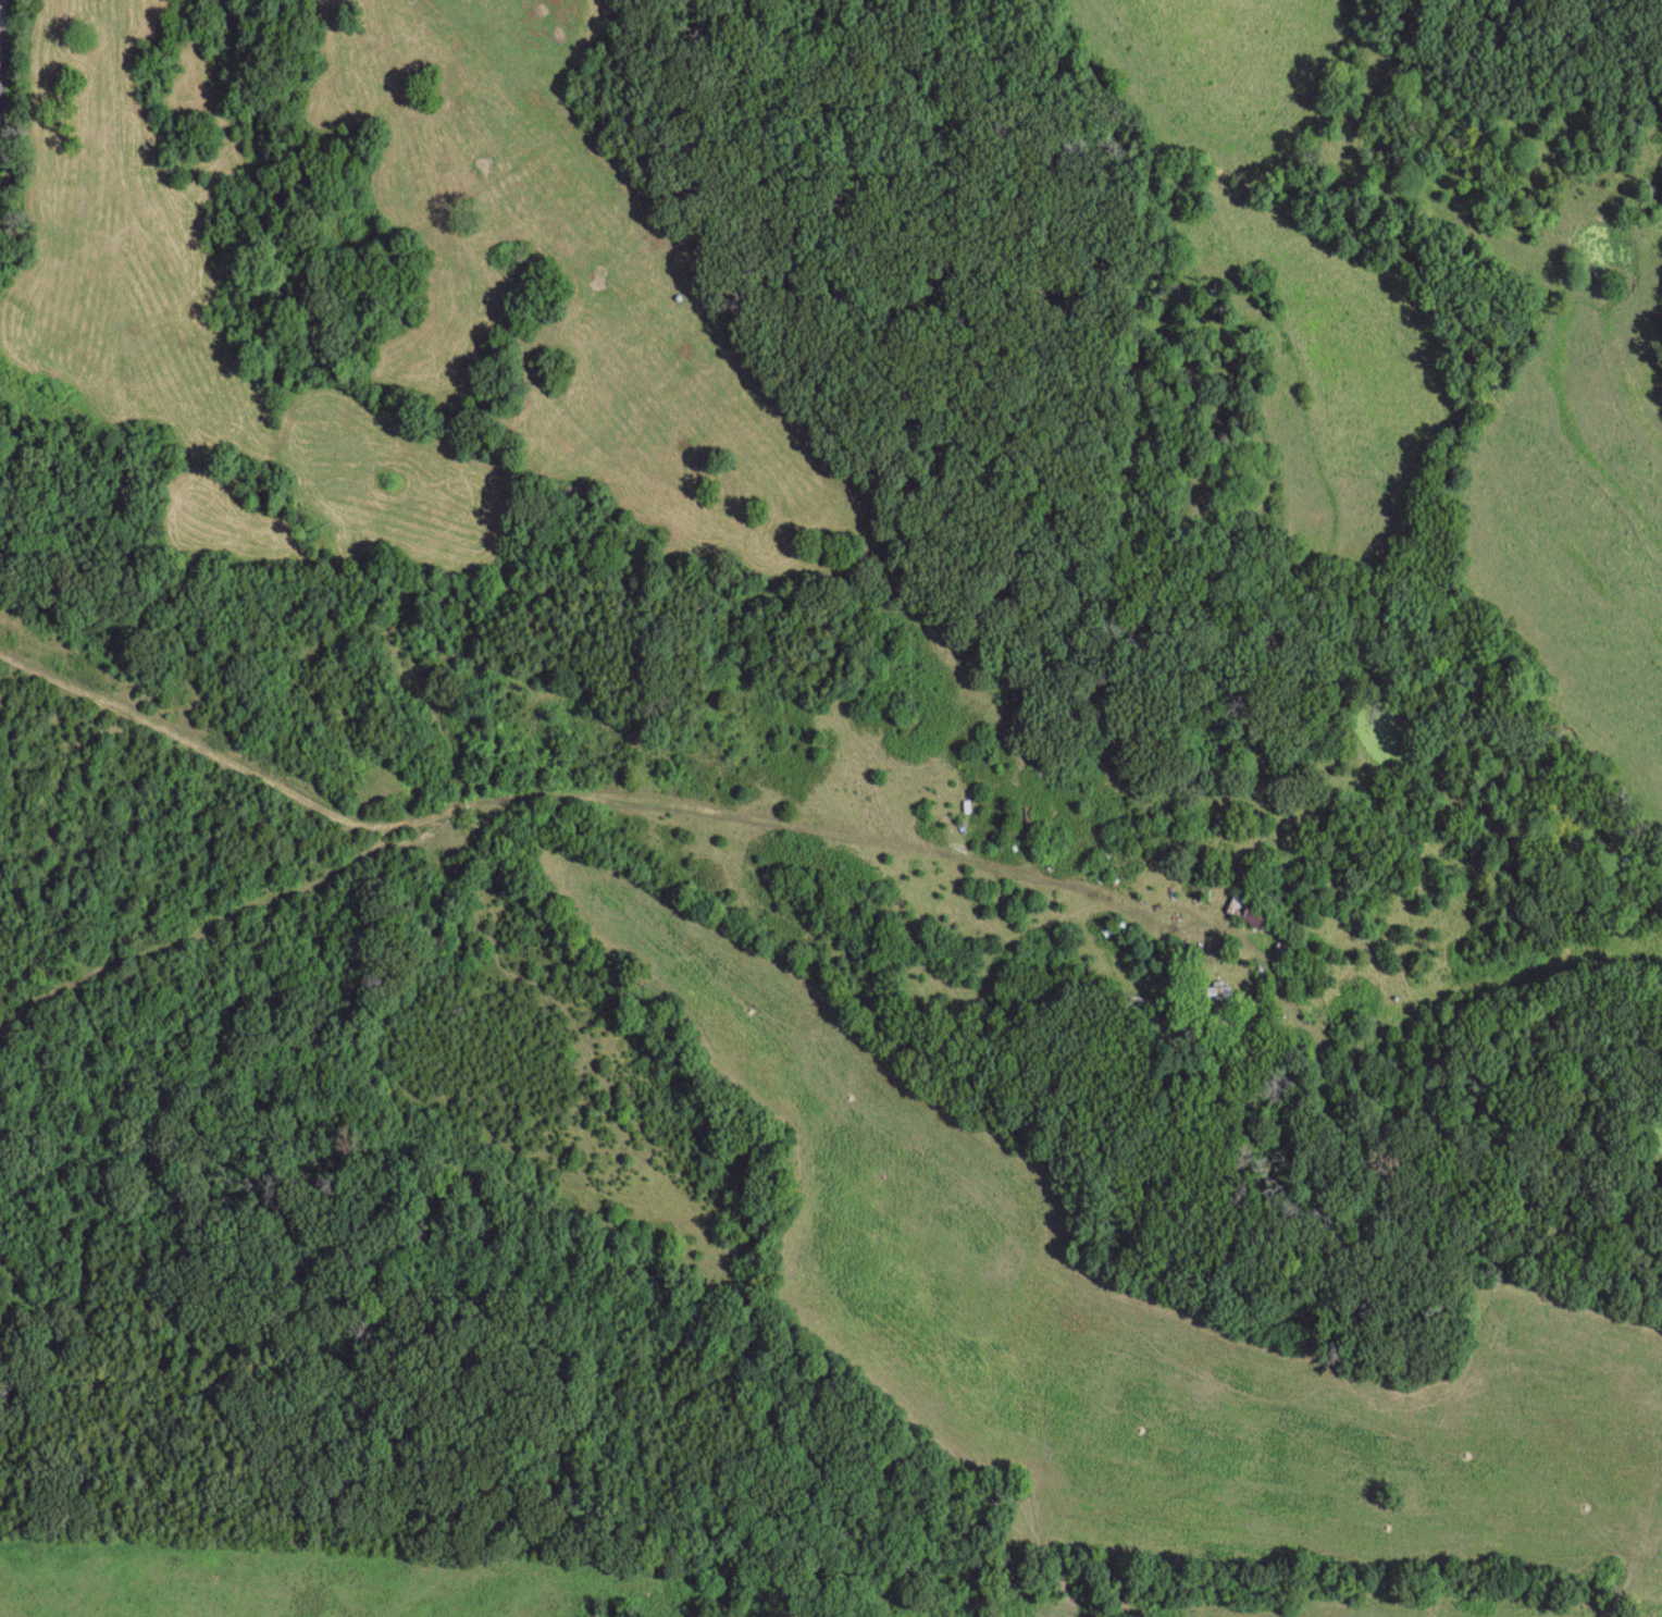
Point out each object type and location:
road: (1, 52)
road: (590, 790)
building: (1255, 913)
building: (1287, 951)
building: (1226, 997)
building: (1150, 1007)

